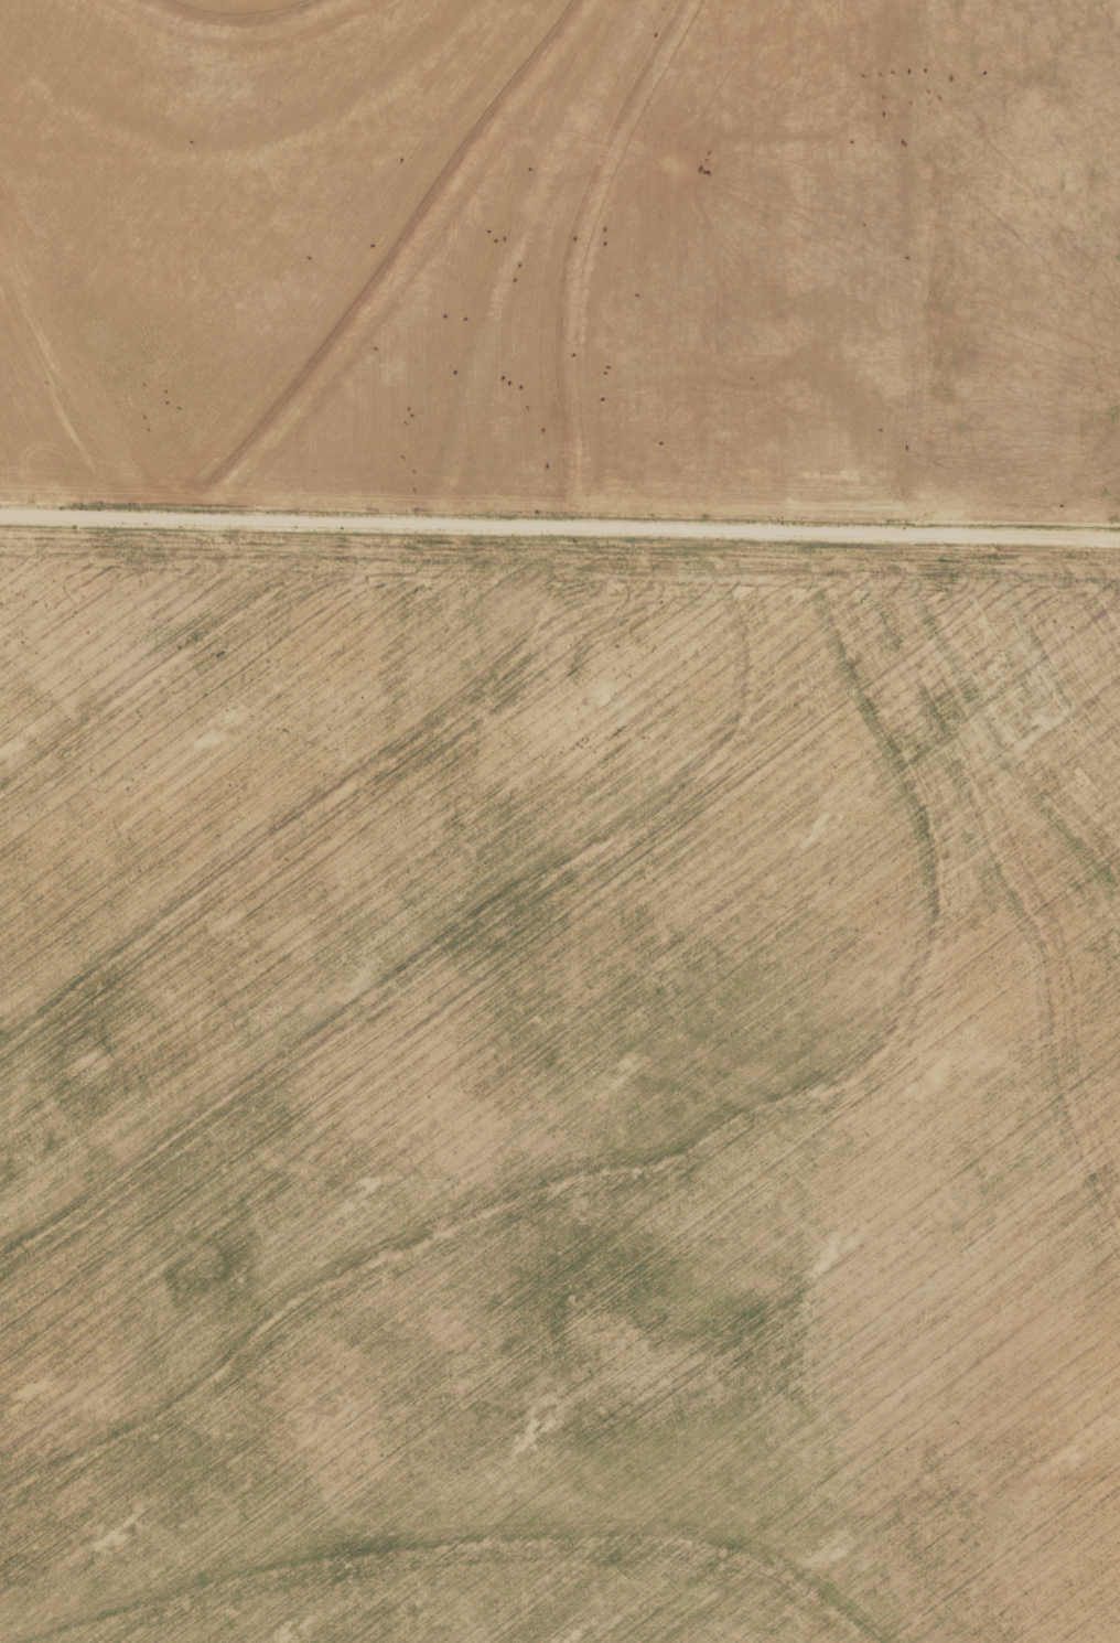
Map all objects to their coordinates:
road: (560, 524)

